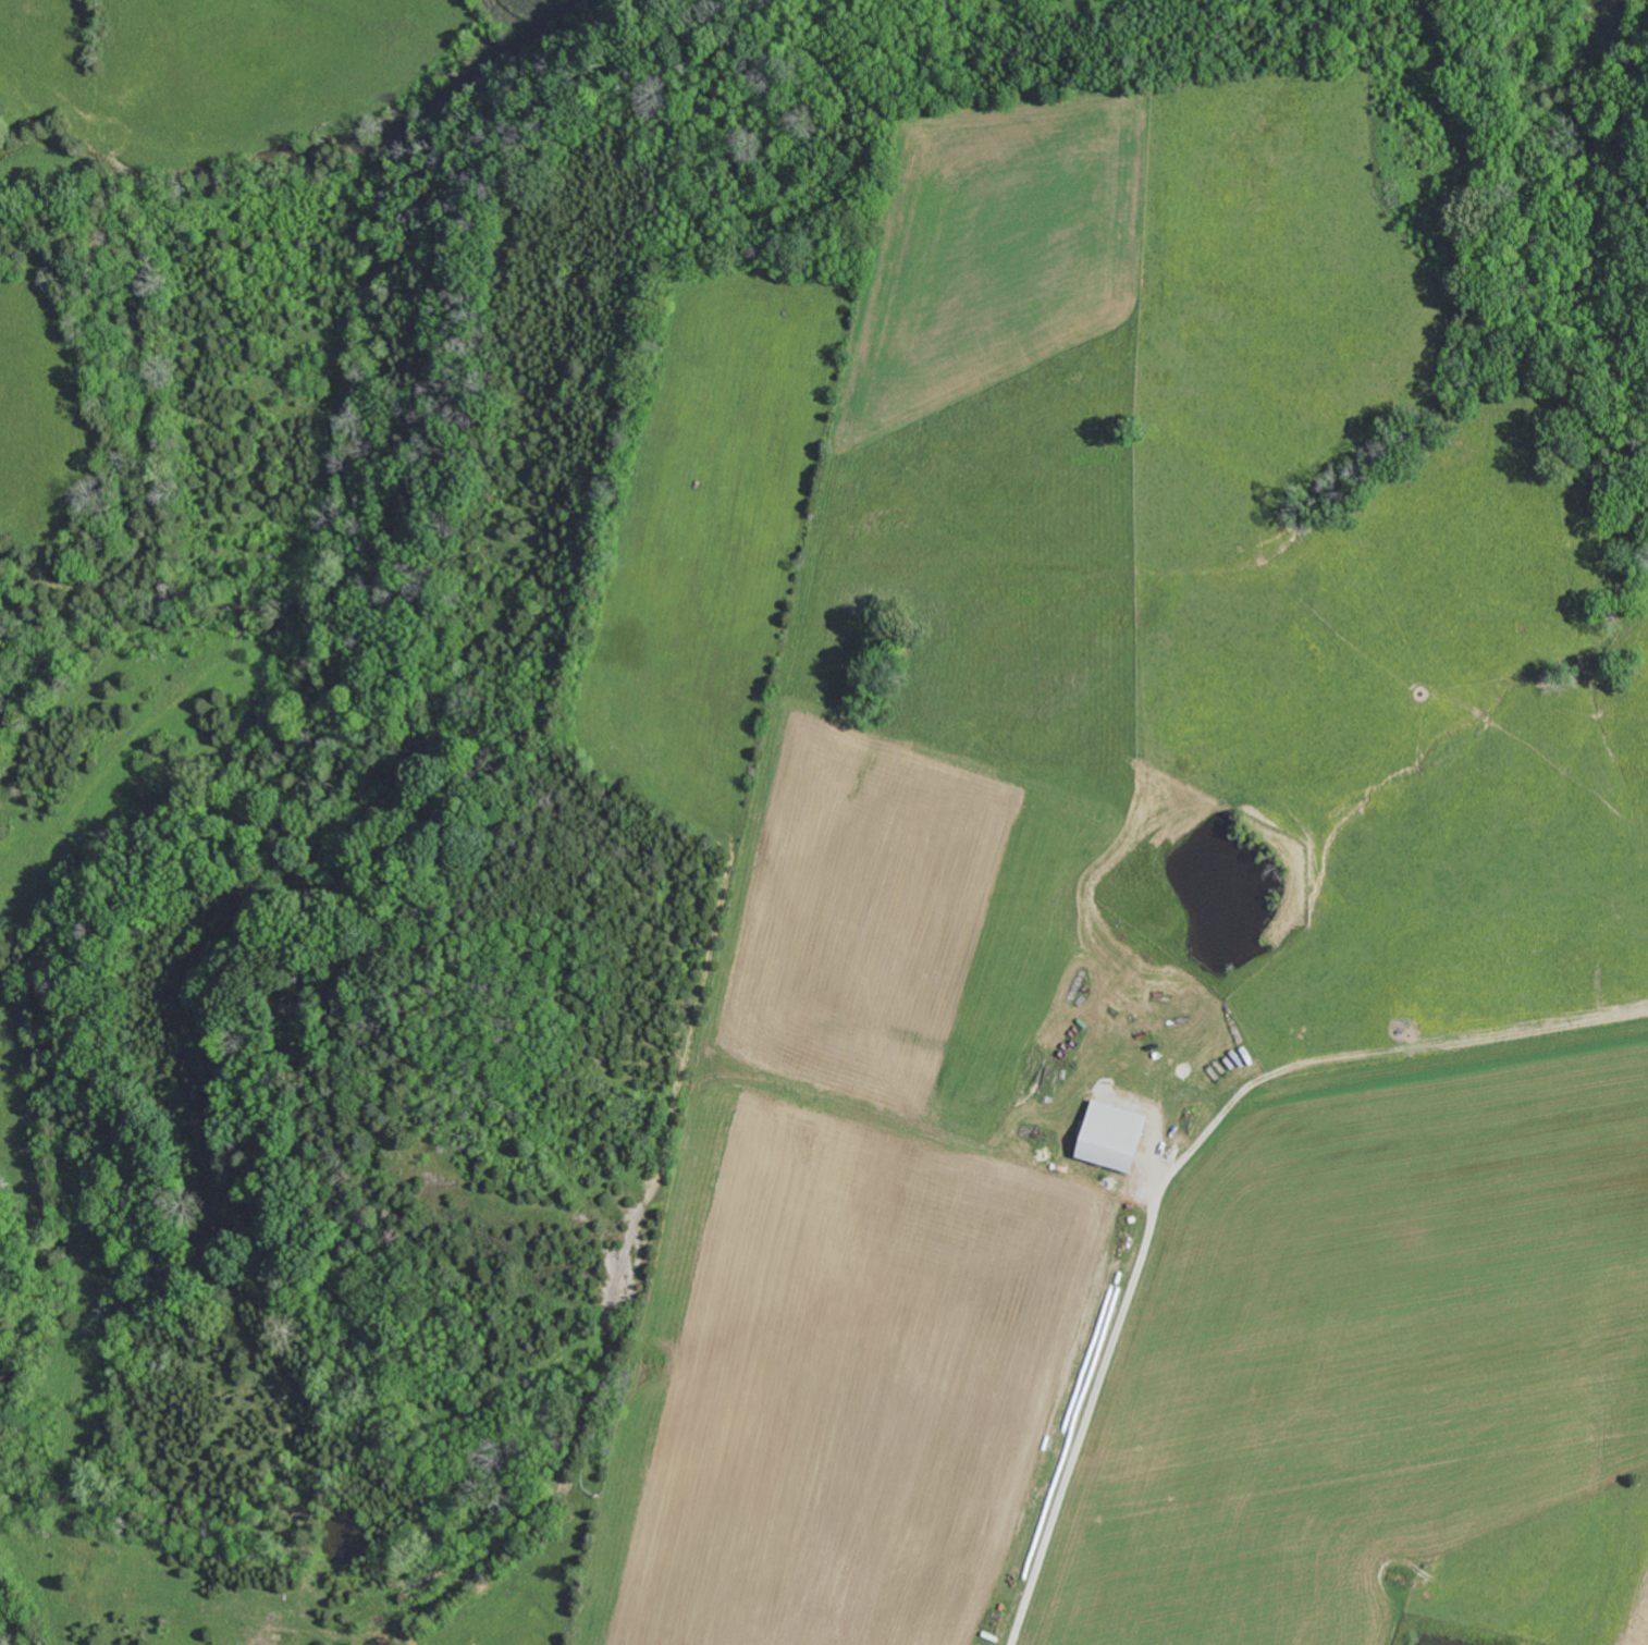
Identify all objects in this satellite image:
building: (1117, 1137)

